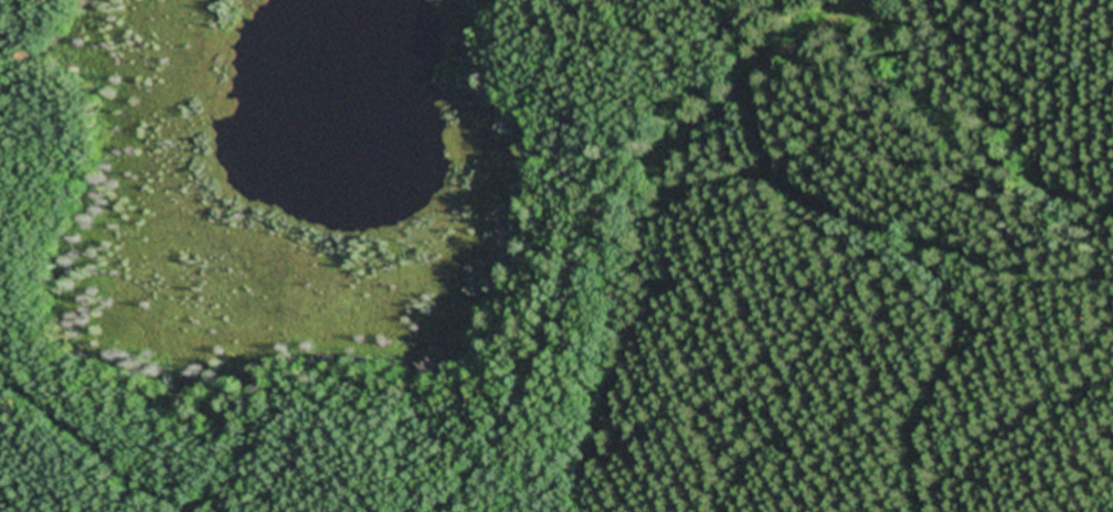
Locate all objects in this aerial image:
road: (920, 247)
road: (559, 248)
road: (99, 451)

